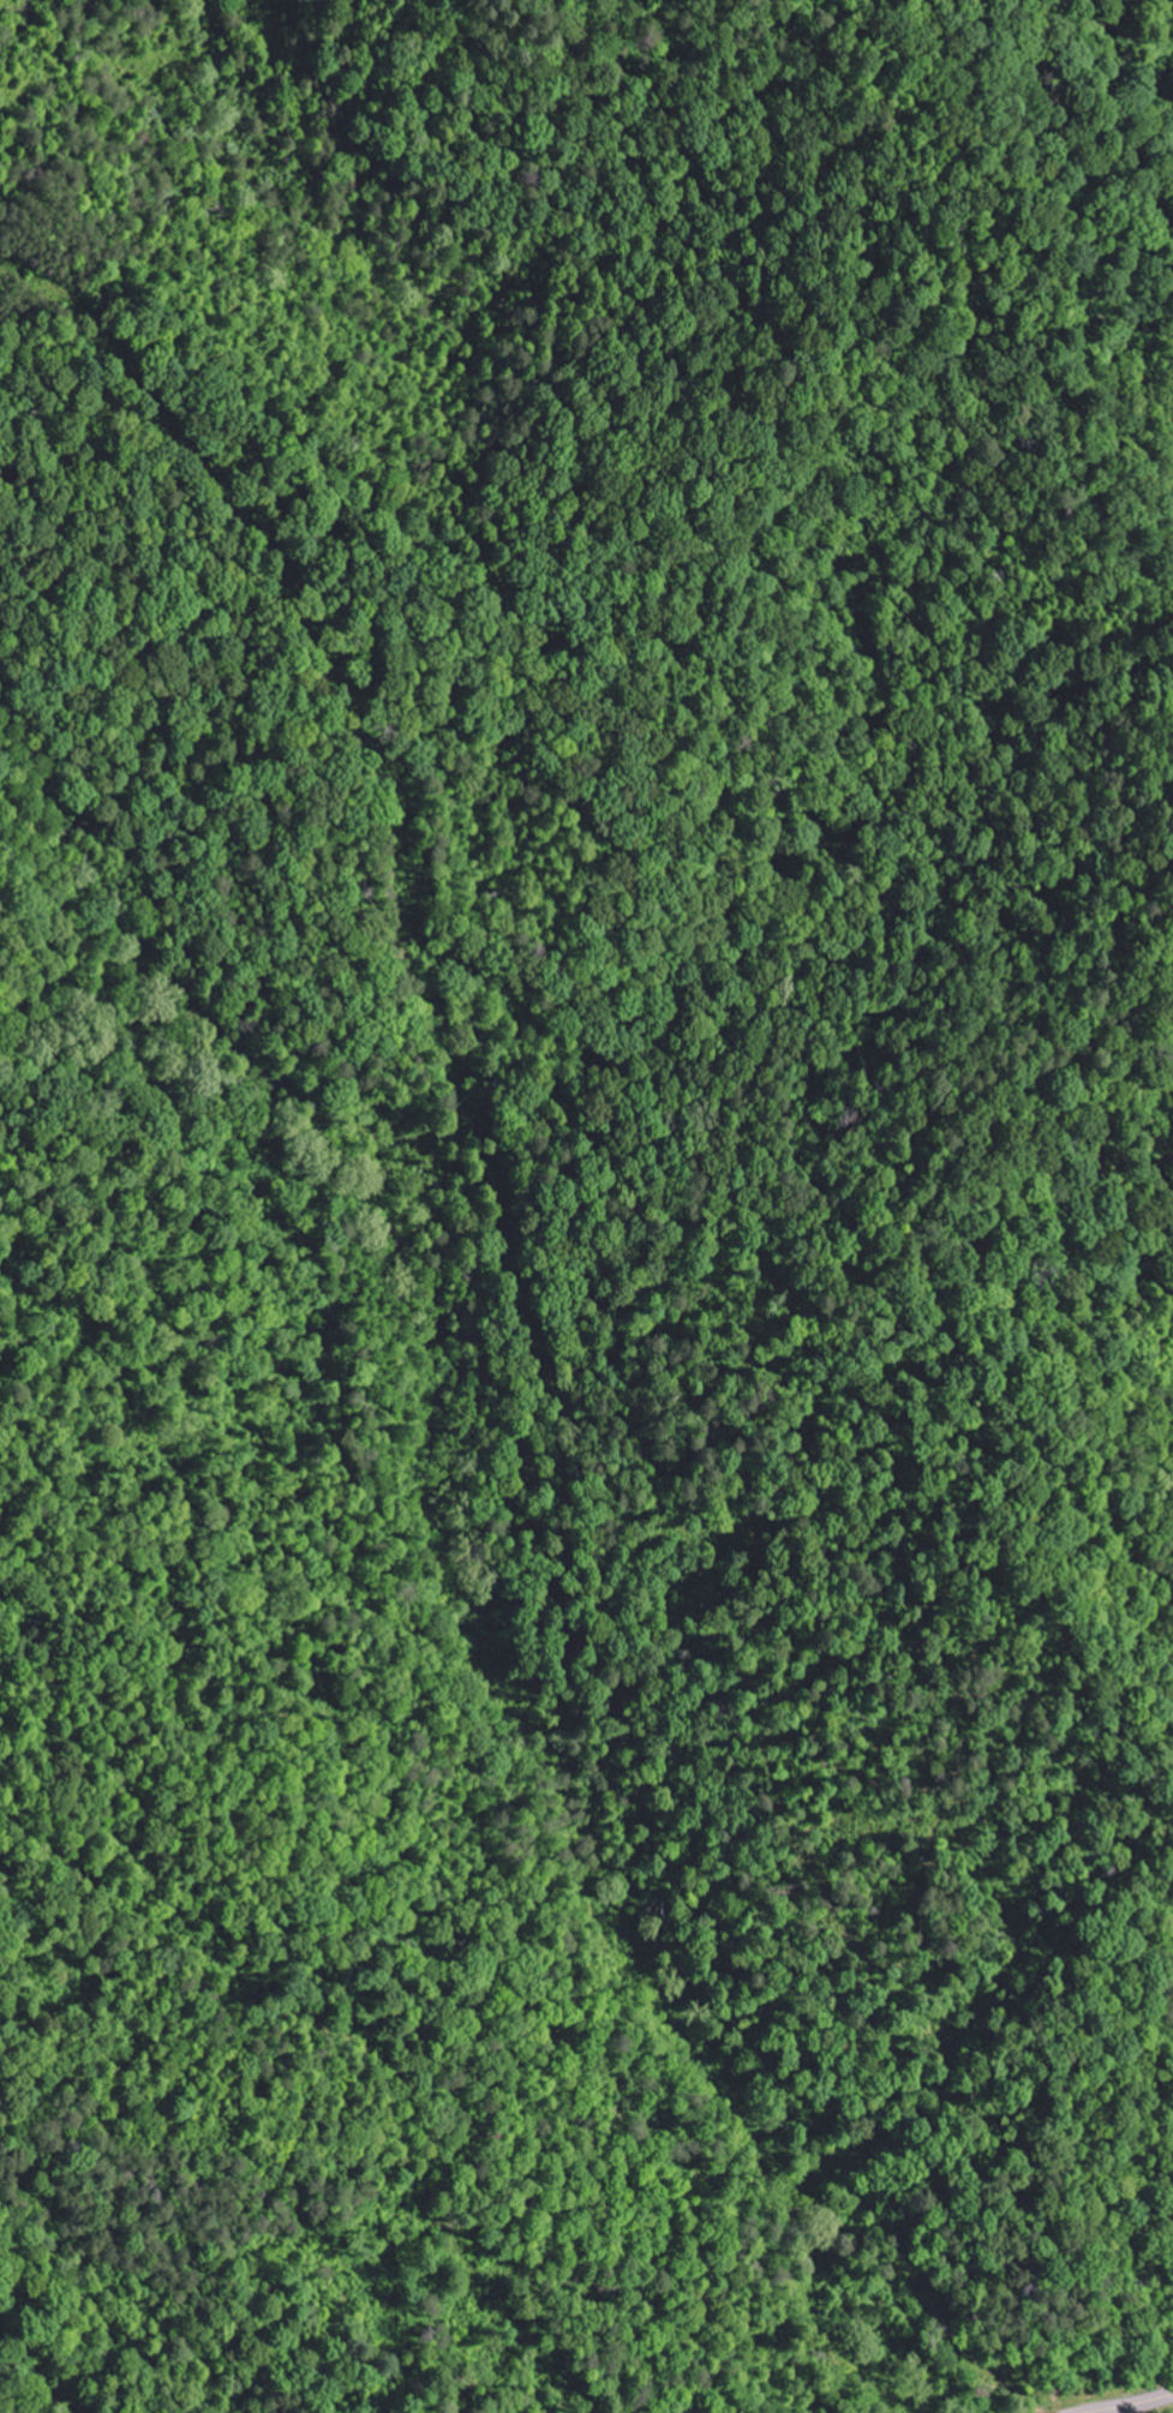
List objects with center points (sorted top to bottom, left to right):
road: (101, 2310)
road: (1130, 2403)

